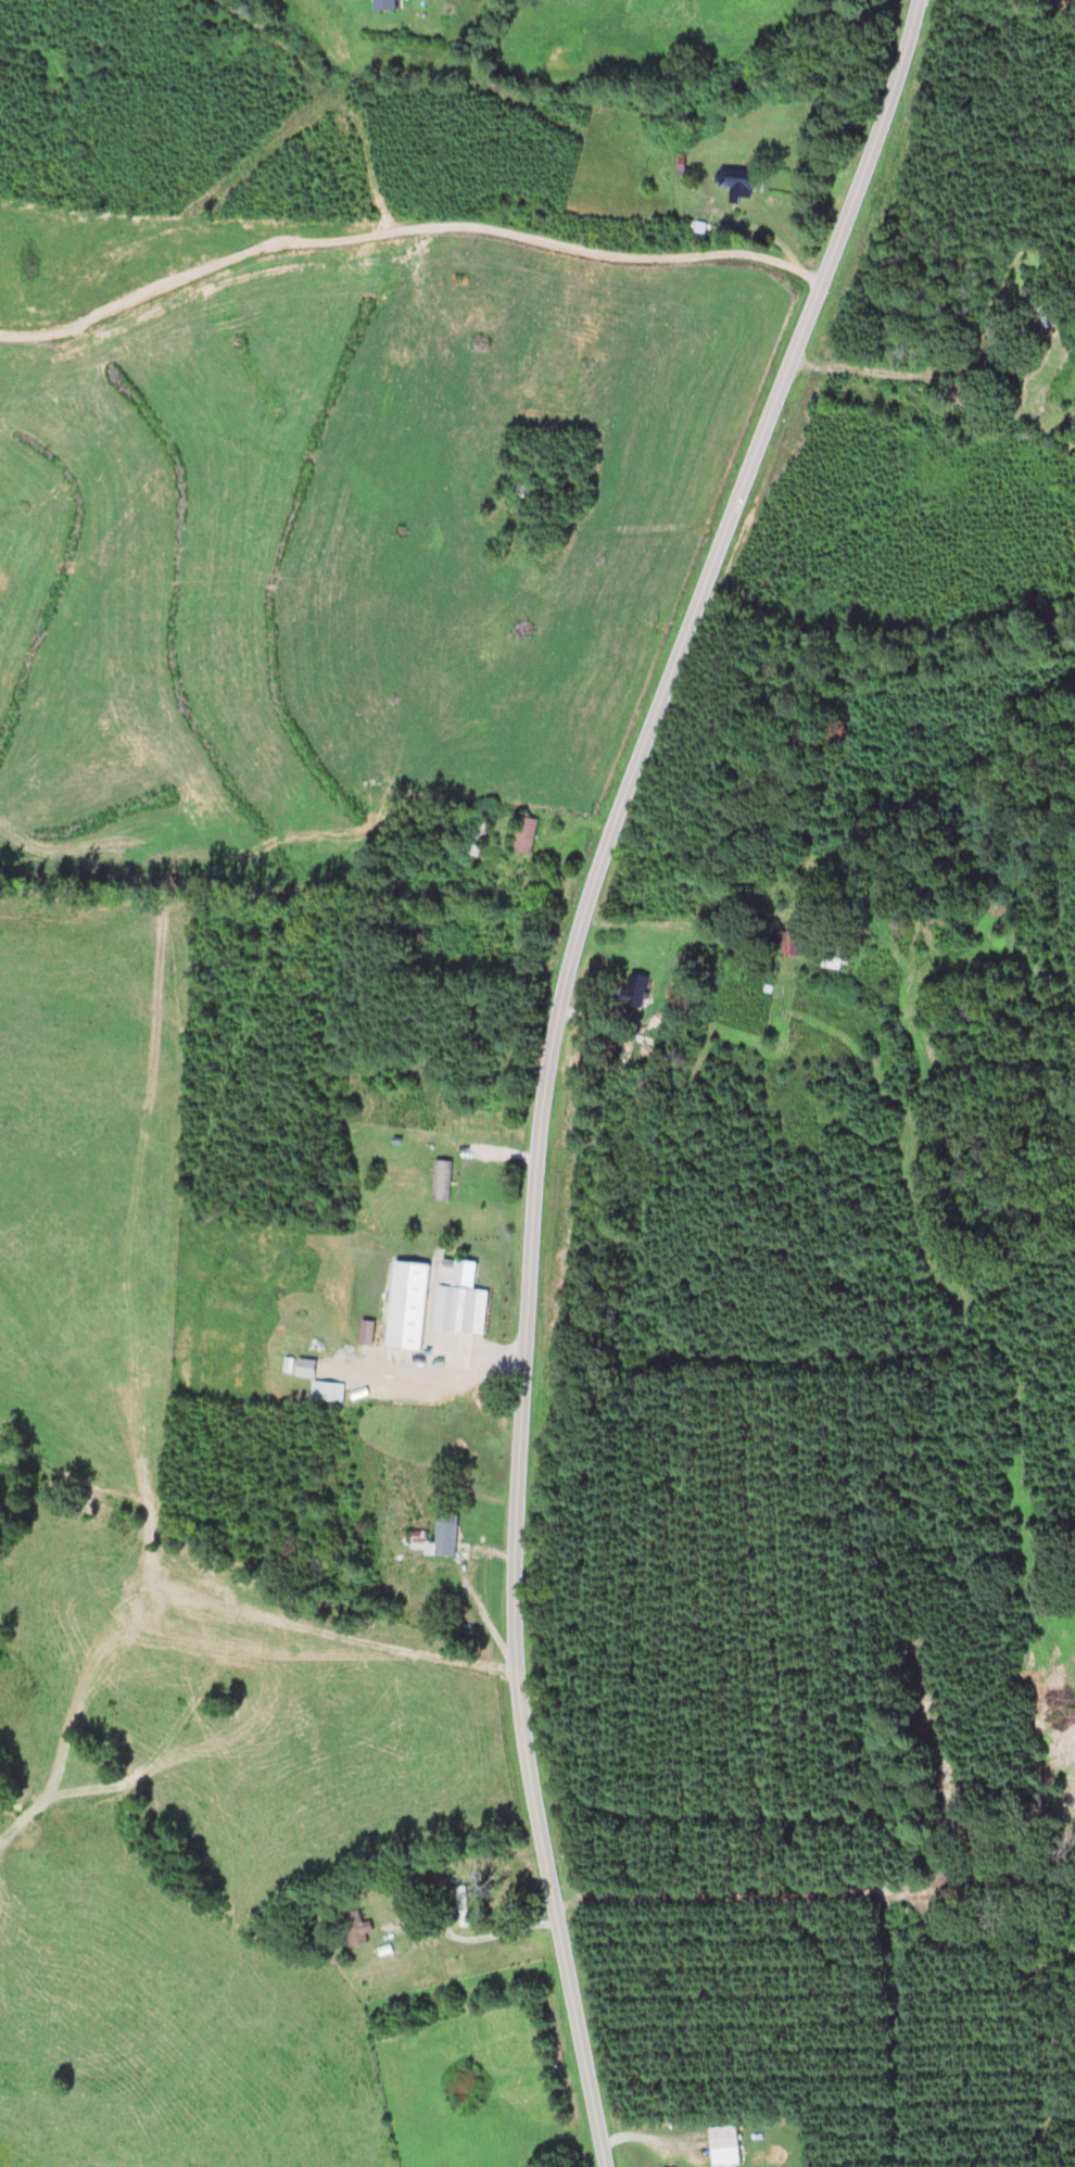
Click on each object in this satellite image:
building: (382, 5)
building: (733, 178)
road: (406, 231)
road: (884, 371)
building: (516, 489)
building: (523, 835)
building: (479, 836)
building: (465, 877)
building: (515, 881)
building: (791, 944)
building: (493, 945)
building: (632, 991)
road: (549, 1056)
building: (440, 1181)
building: (451, 1309)
building: (435, 1537)
building: (461, 1904)
building: (354, 1929)
road: (484, 1938)
building: (721, 2138)

